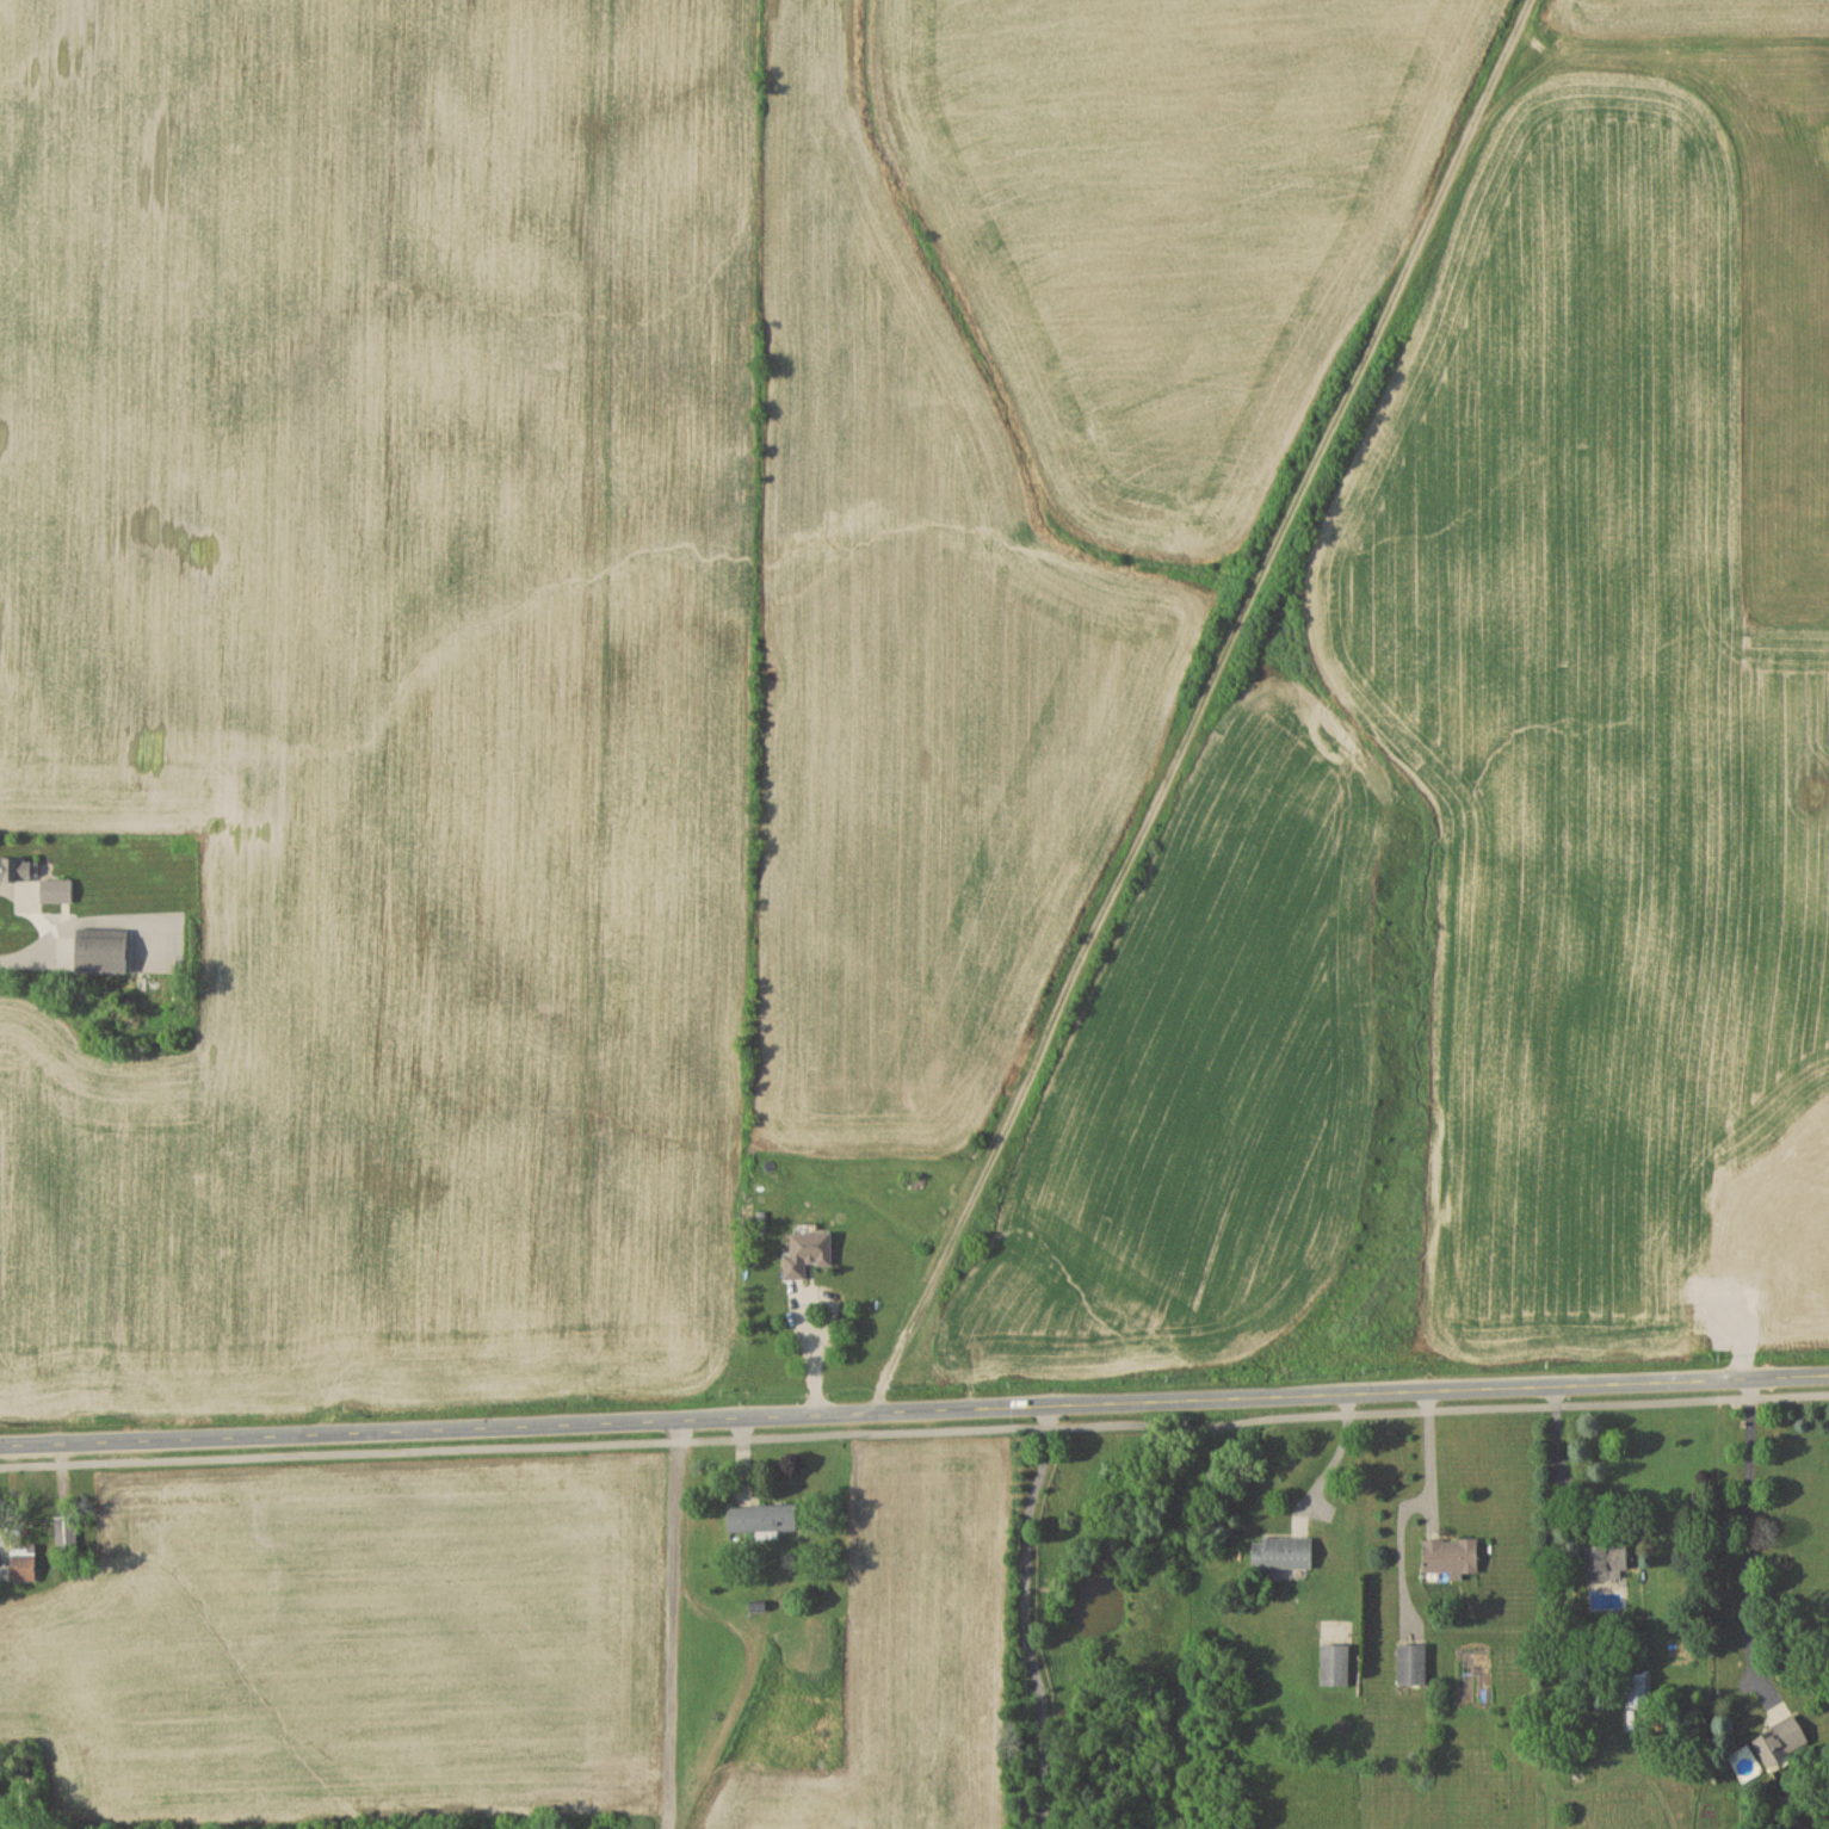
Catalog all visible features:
building: (18, 869)
building: (56, 890)
road: (52, 910)
building: (103, 951)
building: (808, 1253)
road: (795, 1309)
road: (914, 1408)
road: (914, 1431)
road: (1555, 1441)
road: (1334, 1454)
road: (1431, 1454)
building: (762, 1519)
road: (1747, 1536)
building: (1283, 1553)
building: (1451, 1556)
building: (1606, 1561)
building: (24, 1564)
road: (1025, 1613)
building: (1413, 1664)
building: (1335, 1666)
building: (1638, 1691)
building: (1782, 1741)

